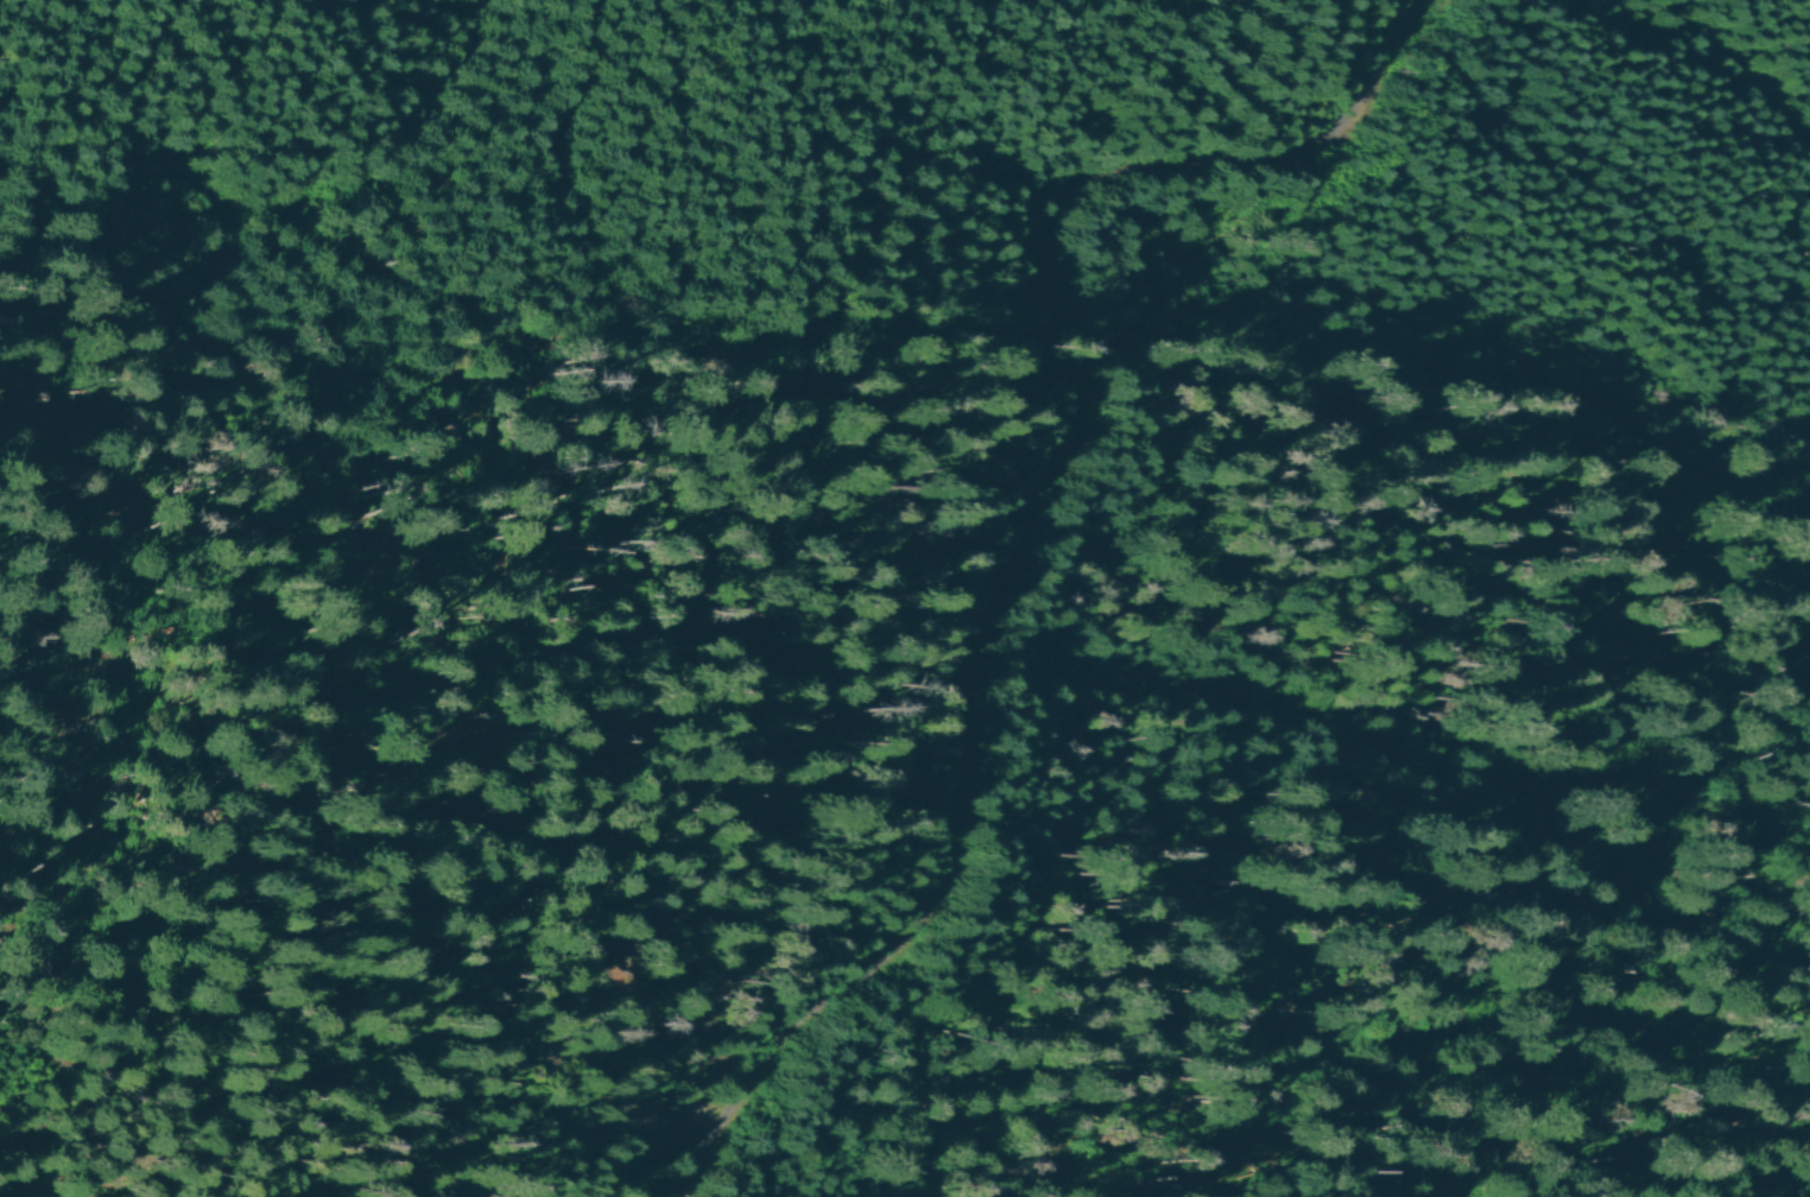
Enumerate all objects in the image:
road: (992, 521)

